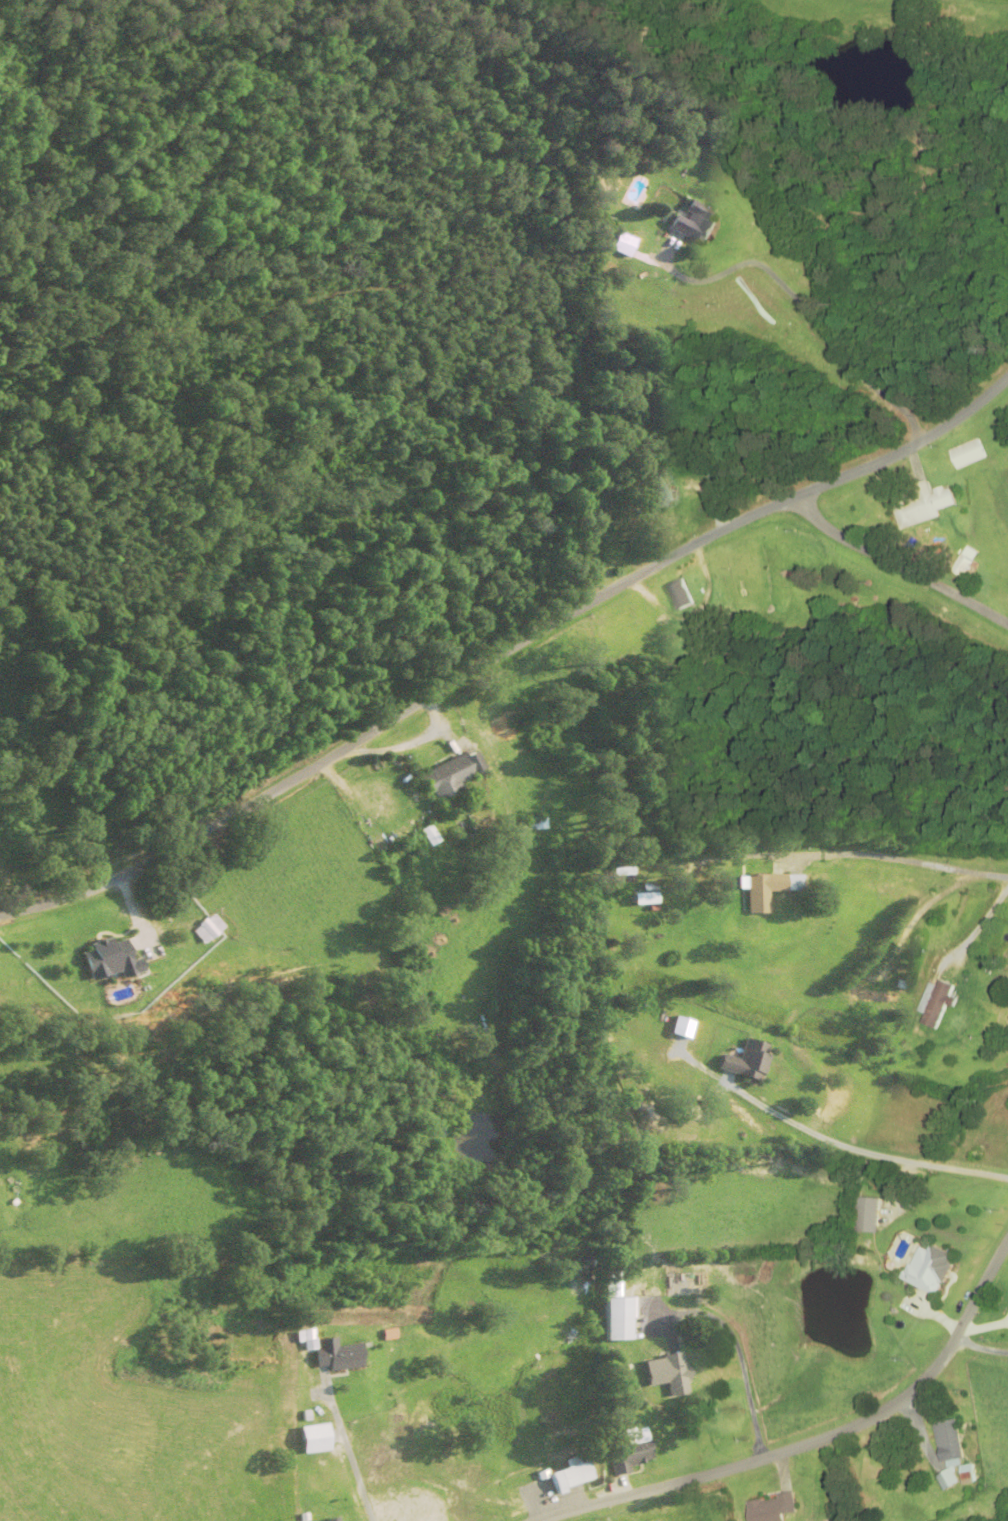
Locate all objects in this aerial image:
building: (689, 222)
building: (966, 454)
building: (656, 490)
building: (921, 506)
building: (963, 565)
road: (895, 566)
building: (677, 595)
road: (506, 649)
building: (446, 777)
building: (618, 871)
road: (872, 871)
building: (765, 889)
building: (638, 899)
building: (203, 929)
building: (104, 960)
building: (933, 1003)
building: (743, 1062)
building: (865, 1216)
building: (927, 1270)
building: (607, 1285)
building: (611, 1319)
road: (979, 1350)
building: (332, 1358)
road: (741, 1369)
building: (664, 1373)
road: (809, 1443)
building: (946, 1443)
building: (623, 1453)
building: (567, 1475)
building: (965, 1475)
building: (944, 1480)
building: (767, 1509)
building: (427, 1518)
building: (330, 1519)

